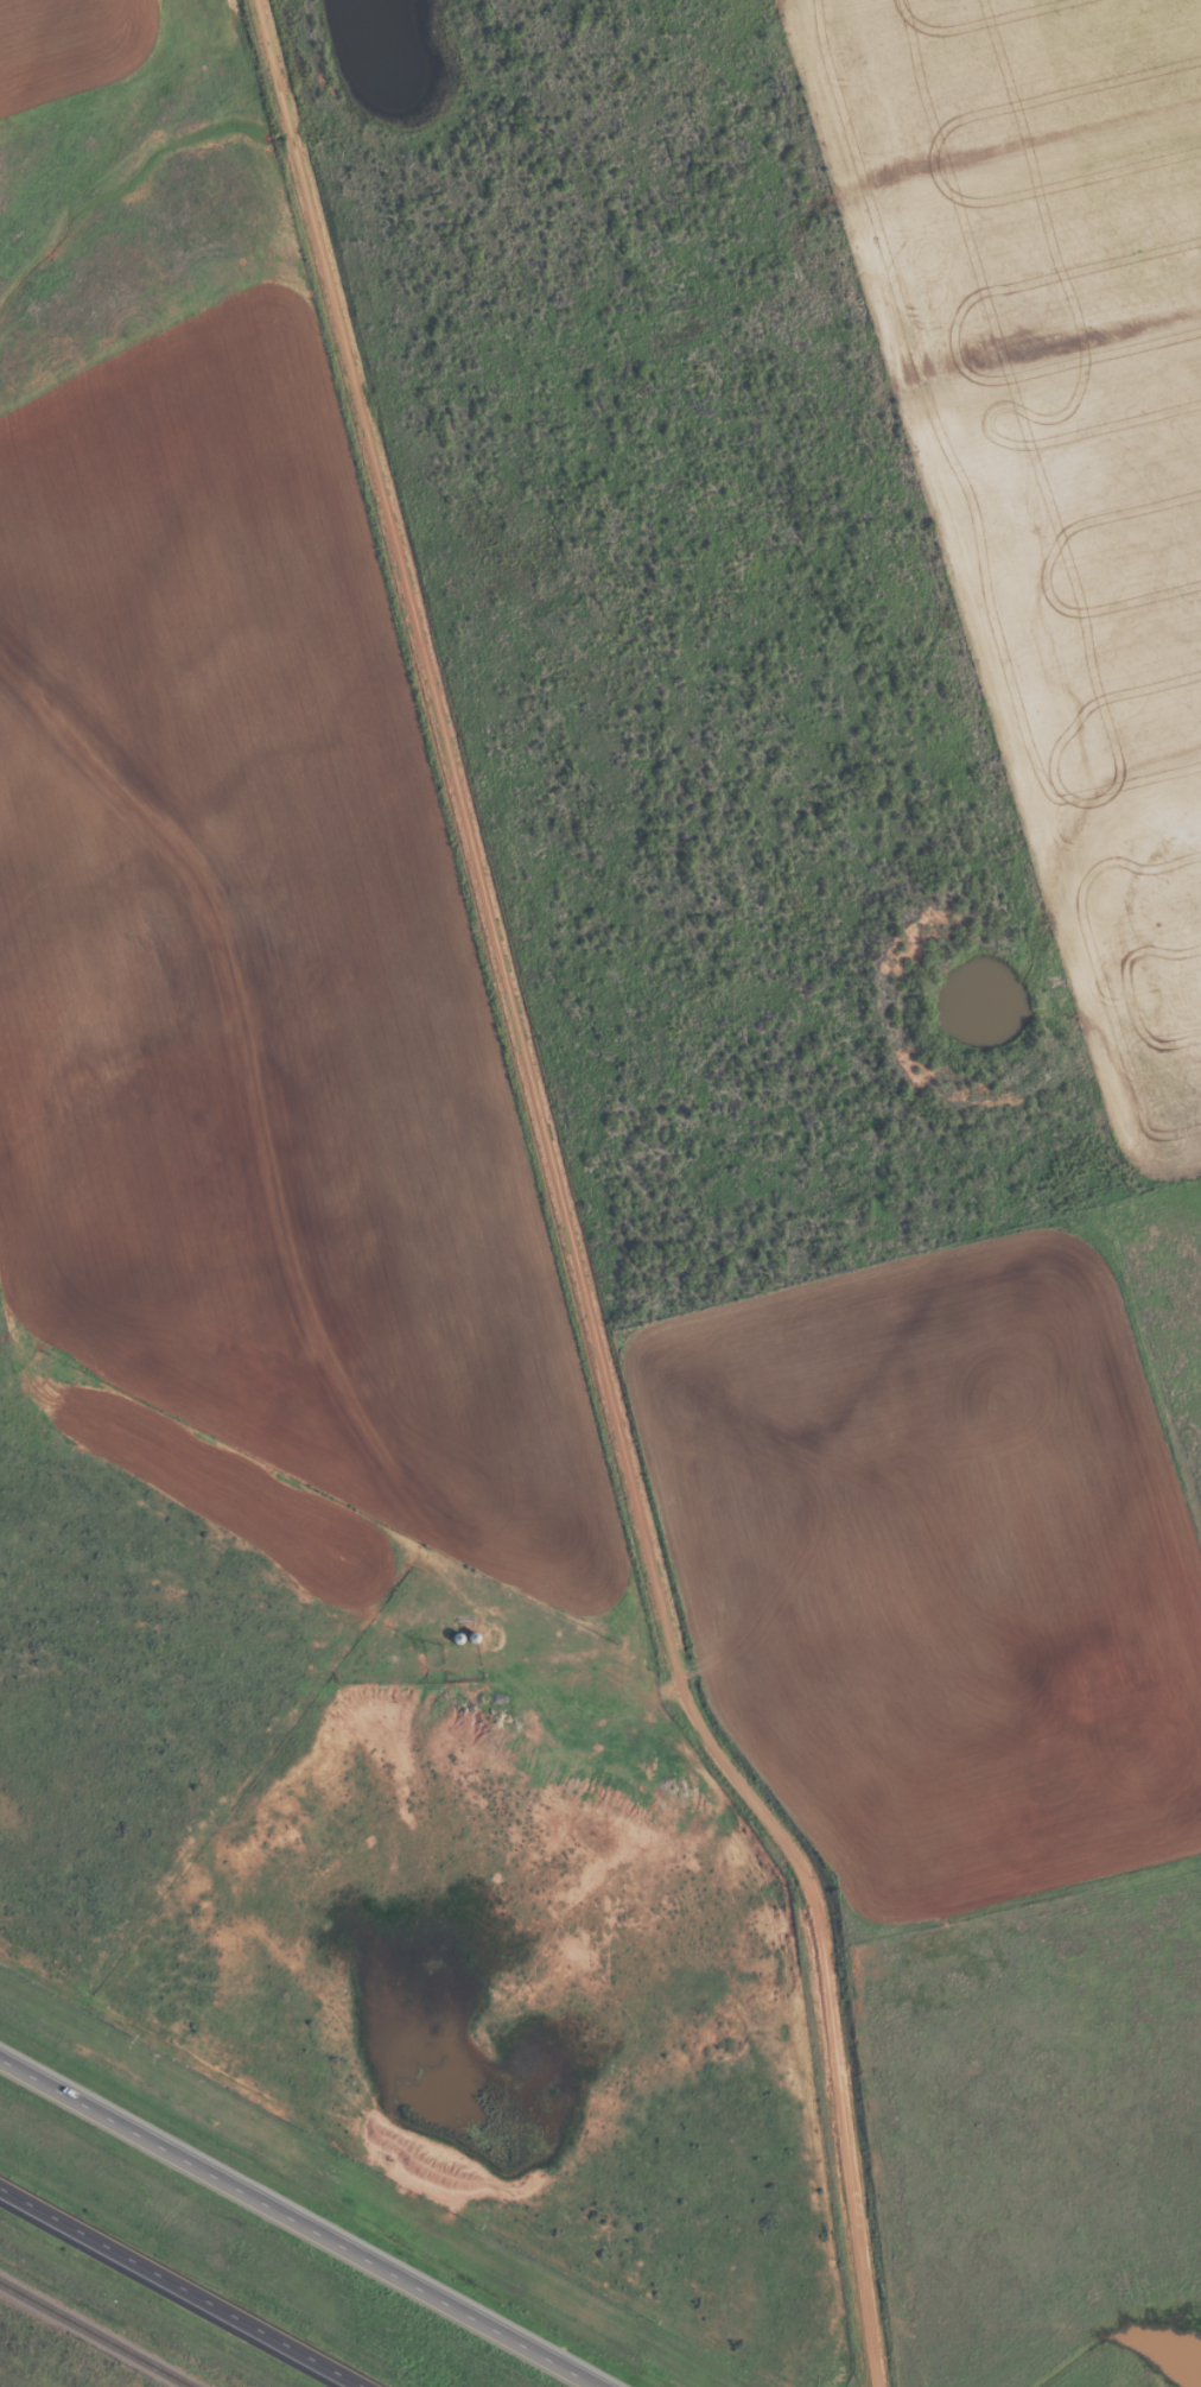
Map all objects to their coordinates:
road: (563, 1203)
road: (299, 2223)
road: (179, 2287)
railway: (95, 2335)

